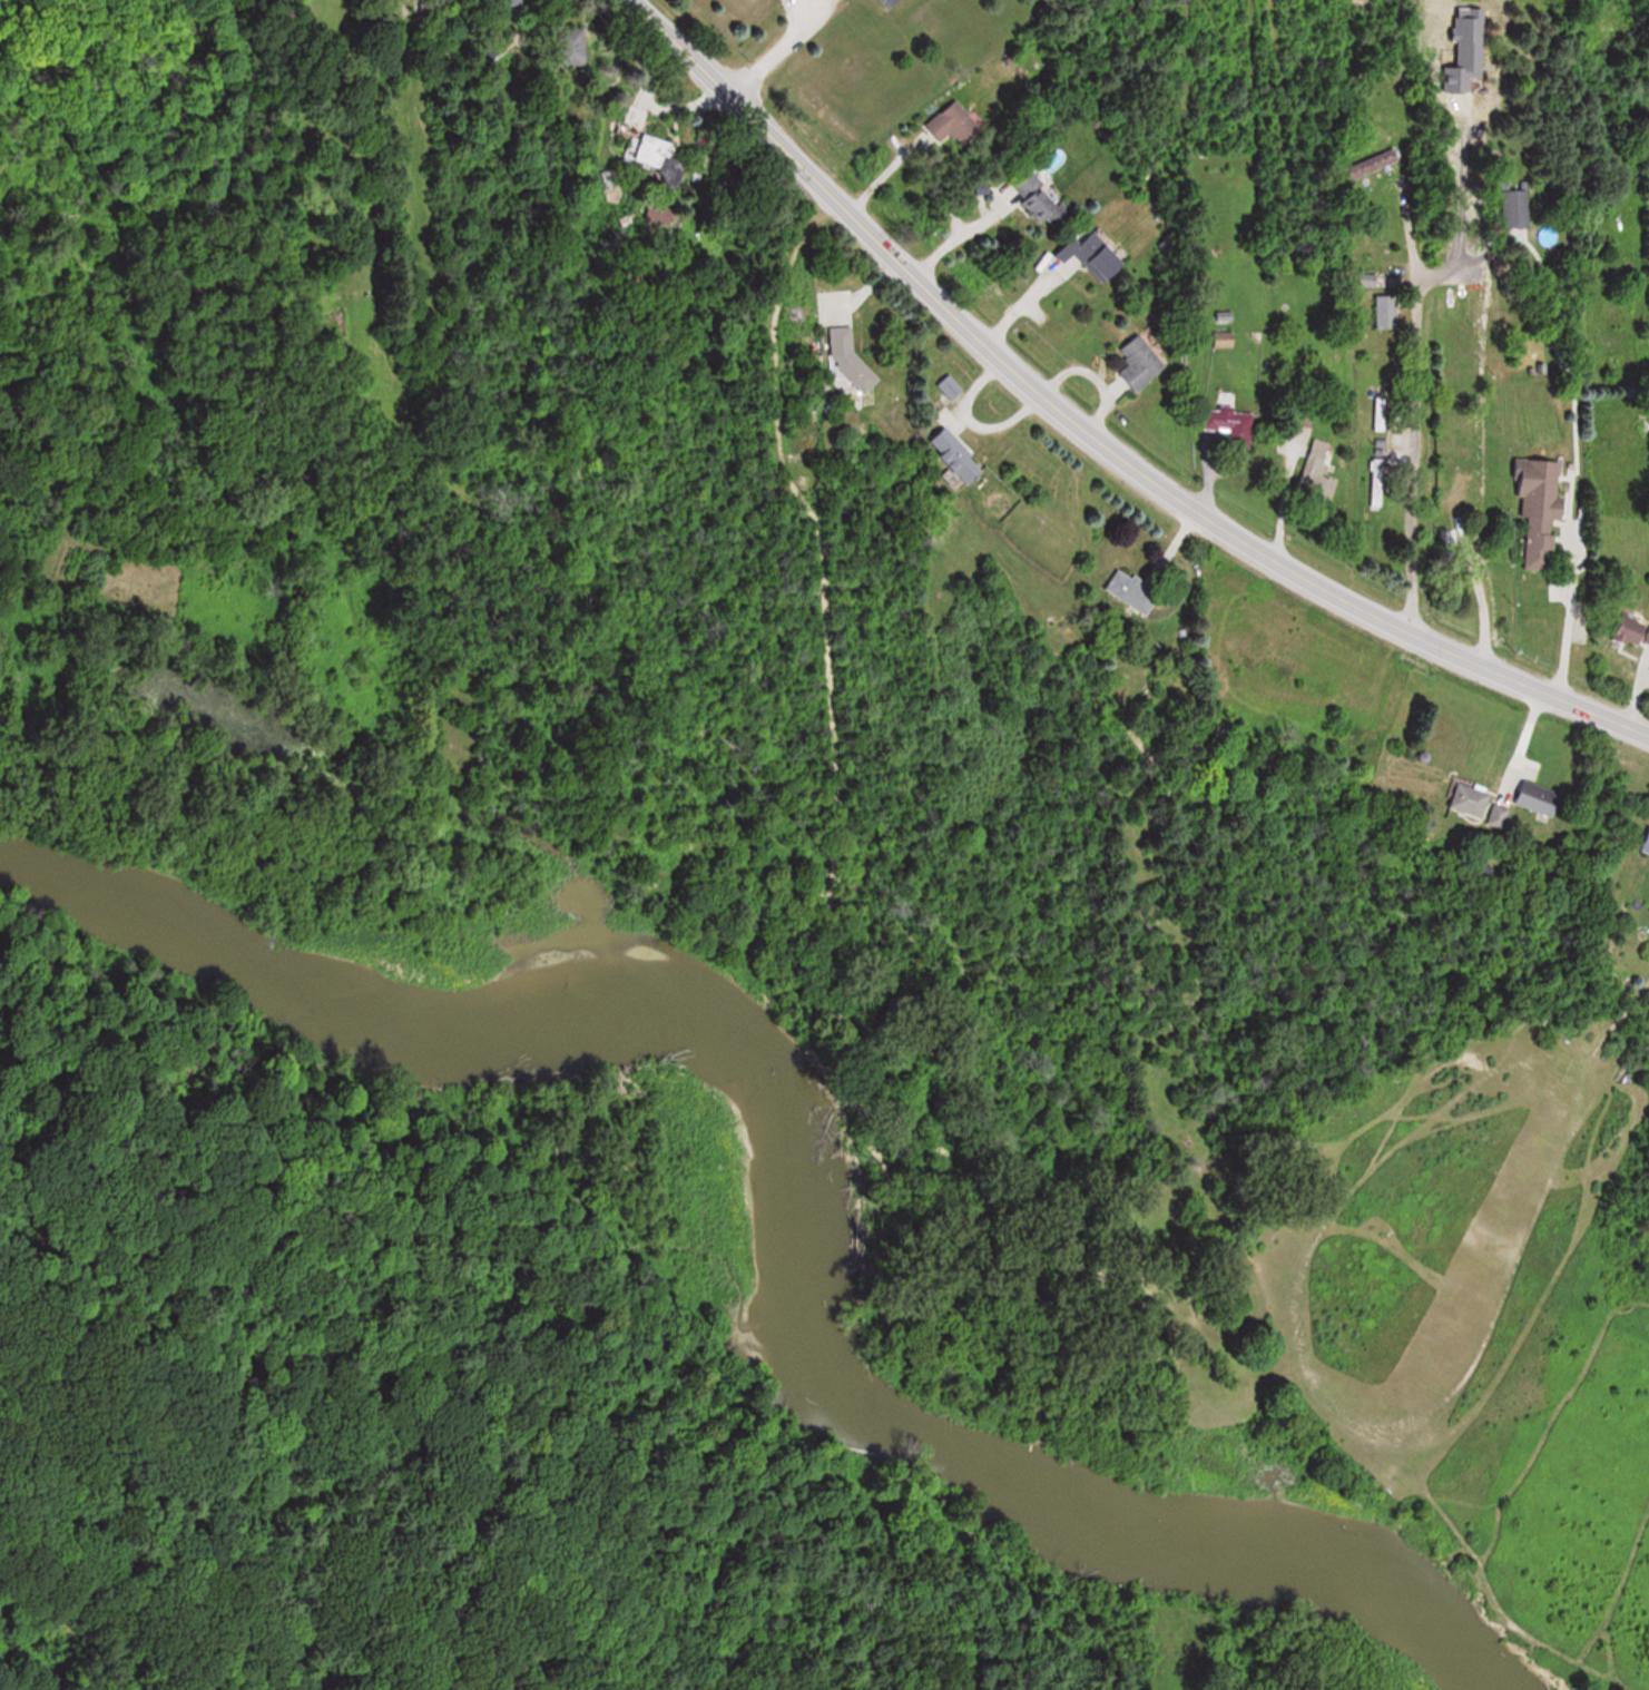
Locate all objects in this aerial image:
building: (954, 125)
building: (662, 161)
building: (1368, 166)
building: (1041, 203)
building: (1515, 206)
building: (658, 213)
road: (954, 230)
building: (1095, 256)
road: (1470, 275)
road: (1019, 295)
building: (1387, 313)
building: (1140, 364)
building: (952, 387)
building: (1227, 424)
road: (1092, 433)
building: (960, 456)
building: (1318, 471)
building: (1378, 482)
road: (1278, 494)
building: (1540, 509)
building: (1143, 587)
road: (1569, 599)
building: (1631, 630)
building: (1539, 797)
building: (1472, 799)
building: (1646, 847)
river: (762, 1199)

